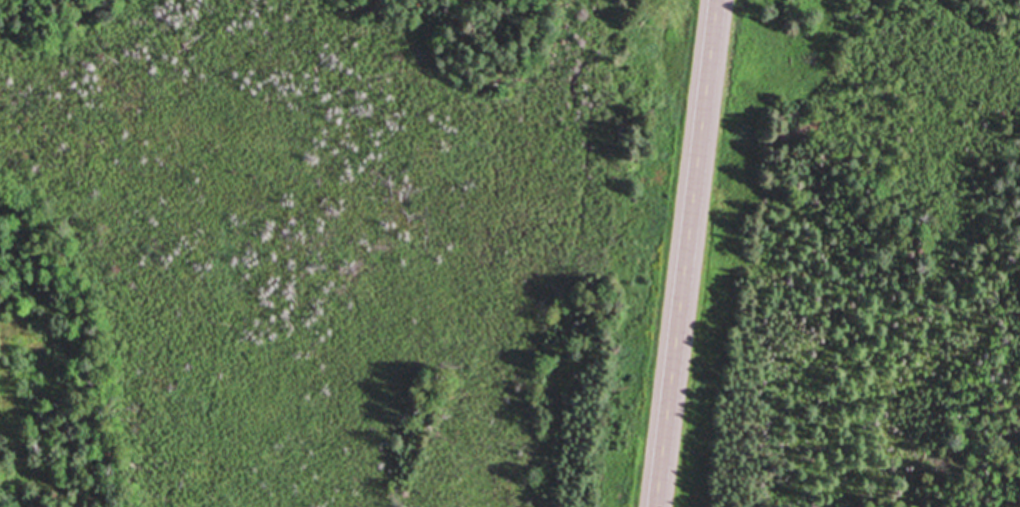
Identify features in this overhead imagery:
road: (685, 253)

